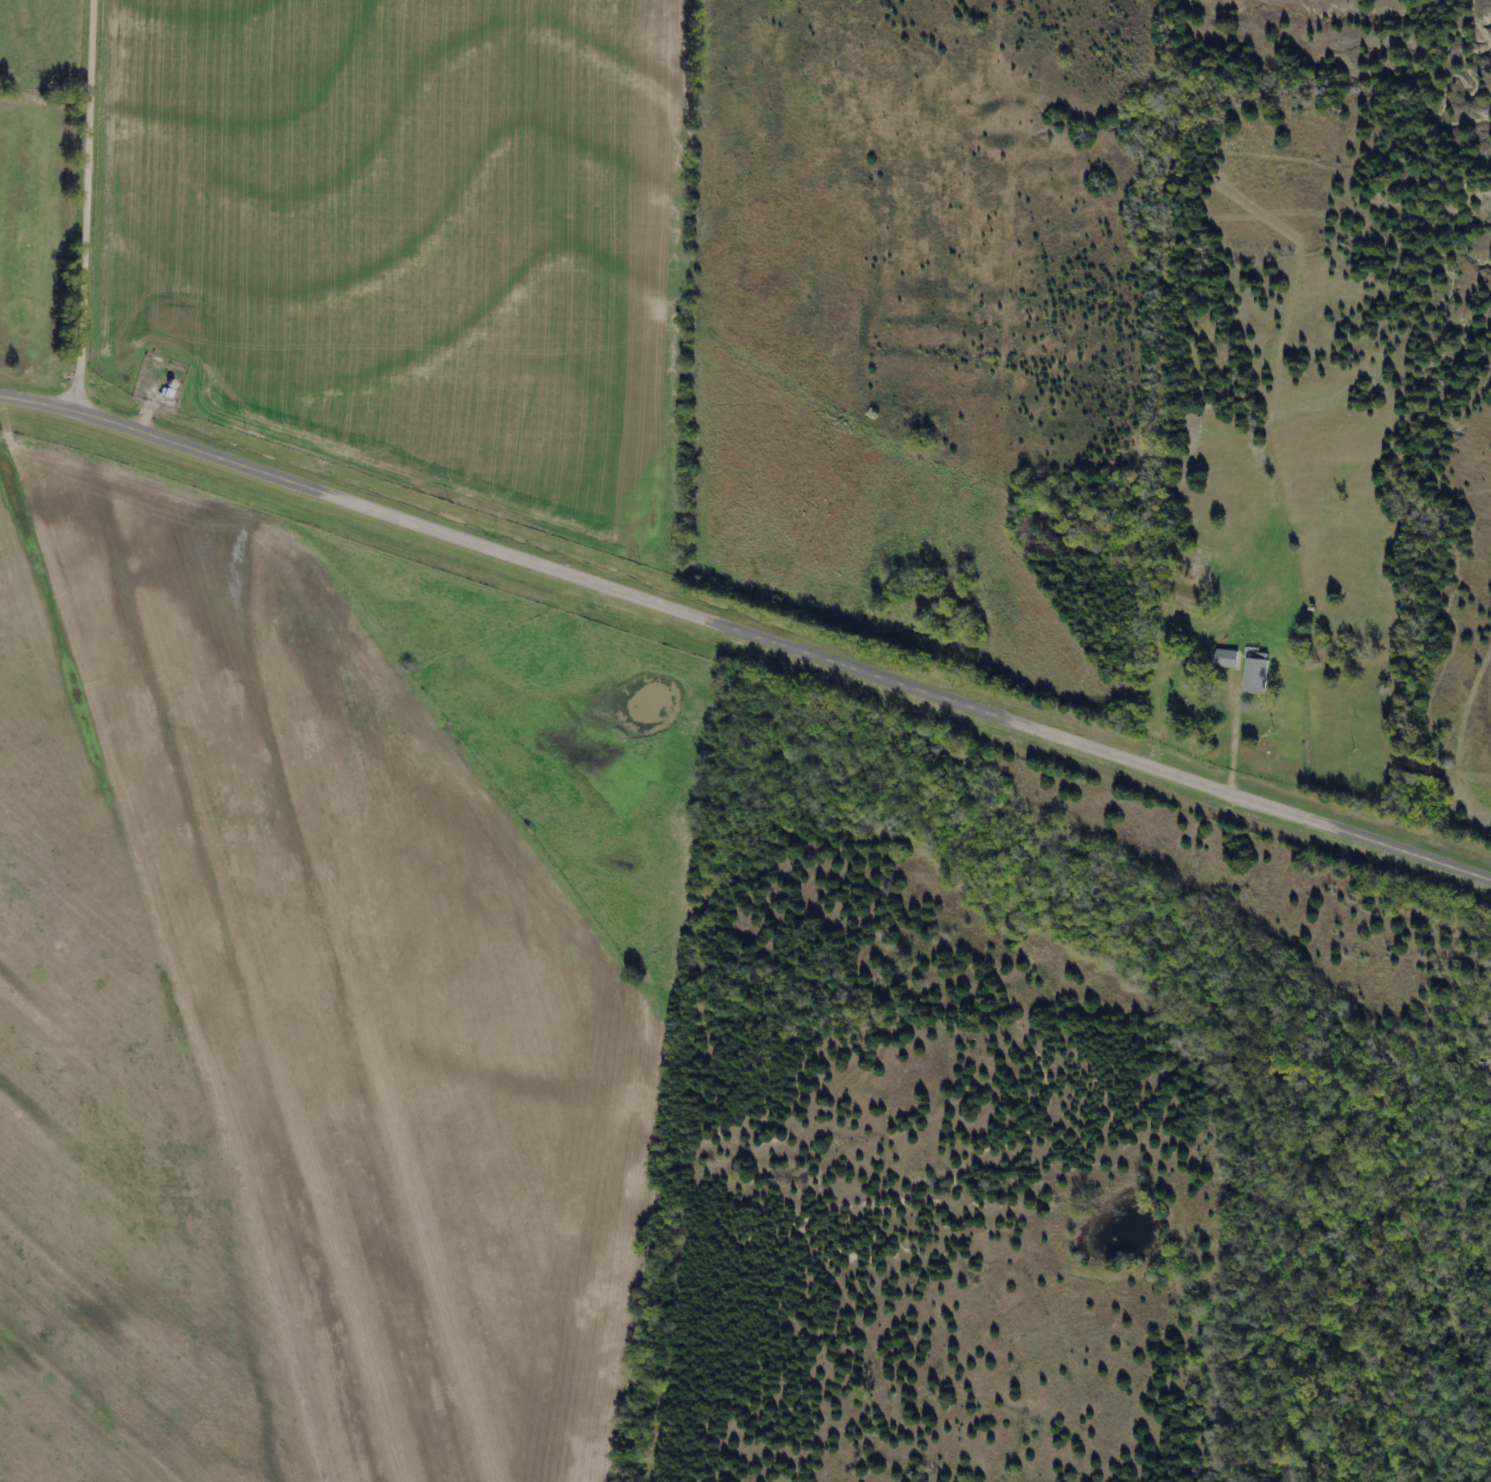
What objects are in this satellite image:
road: (97, 205)
road: (746, 627)
building: (1230, 657)
building: (1259, 674)

